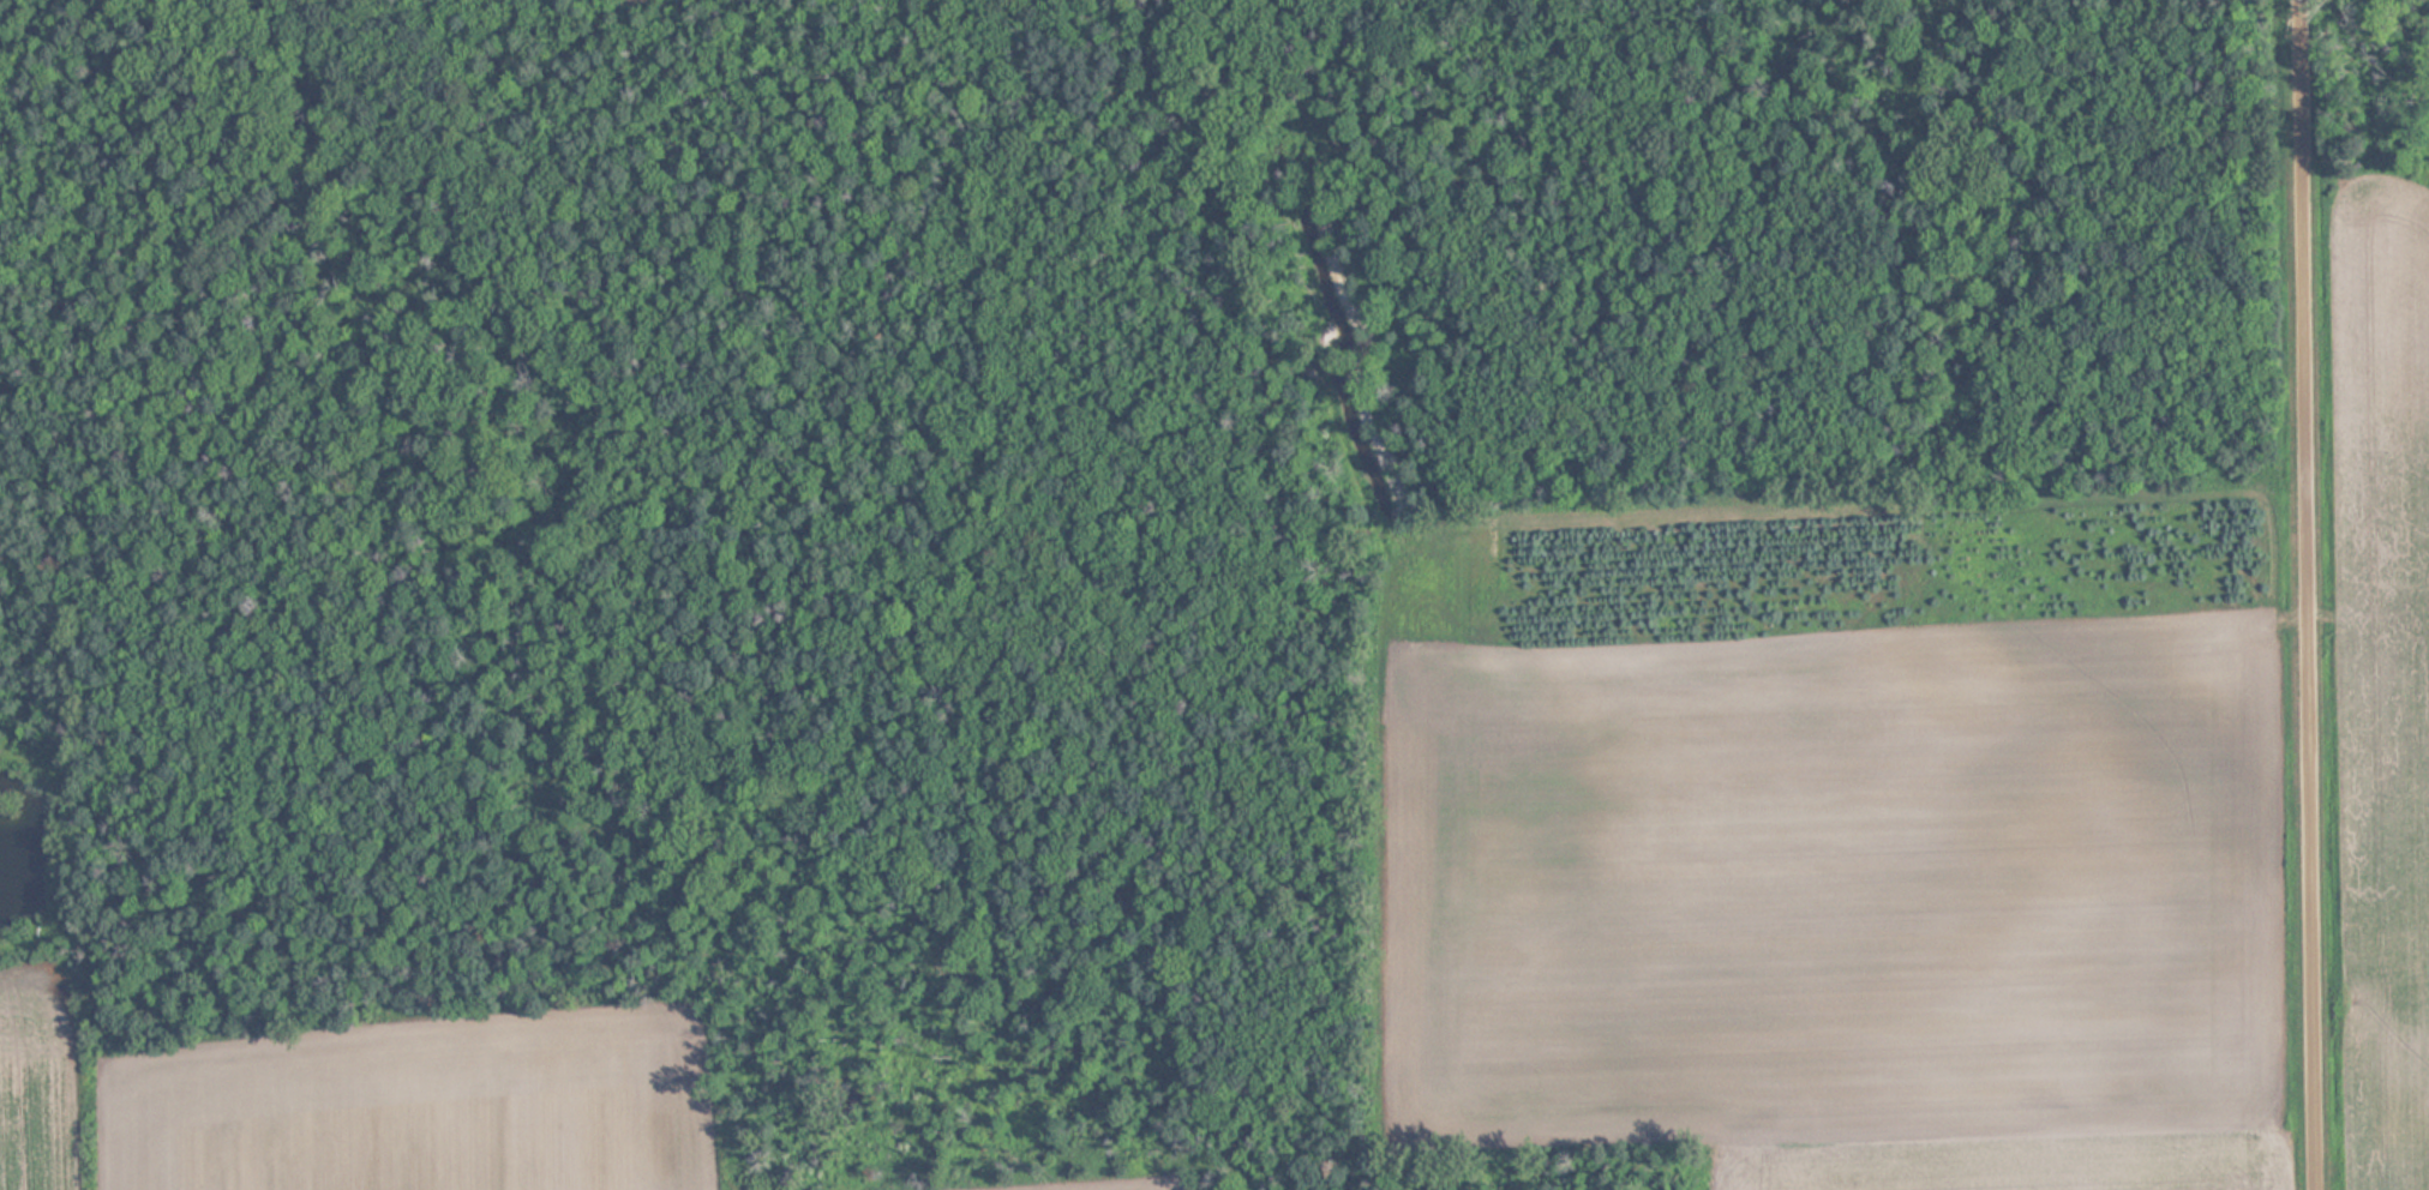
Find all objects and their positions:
road: (2315, 594)

